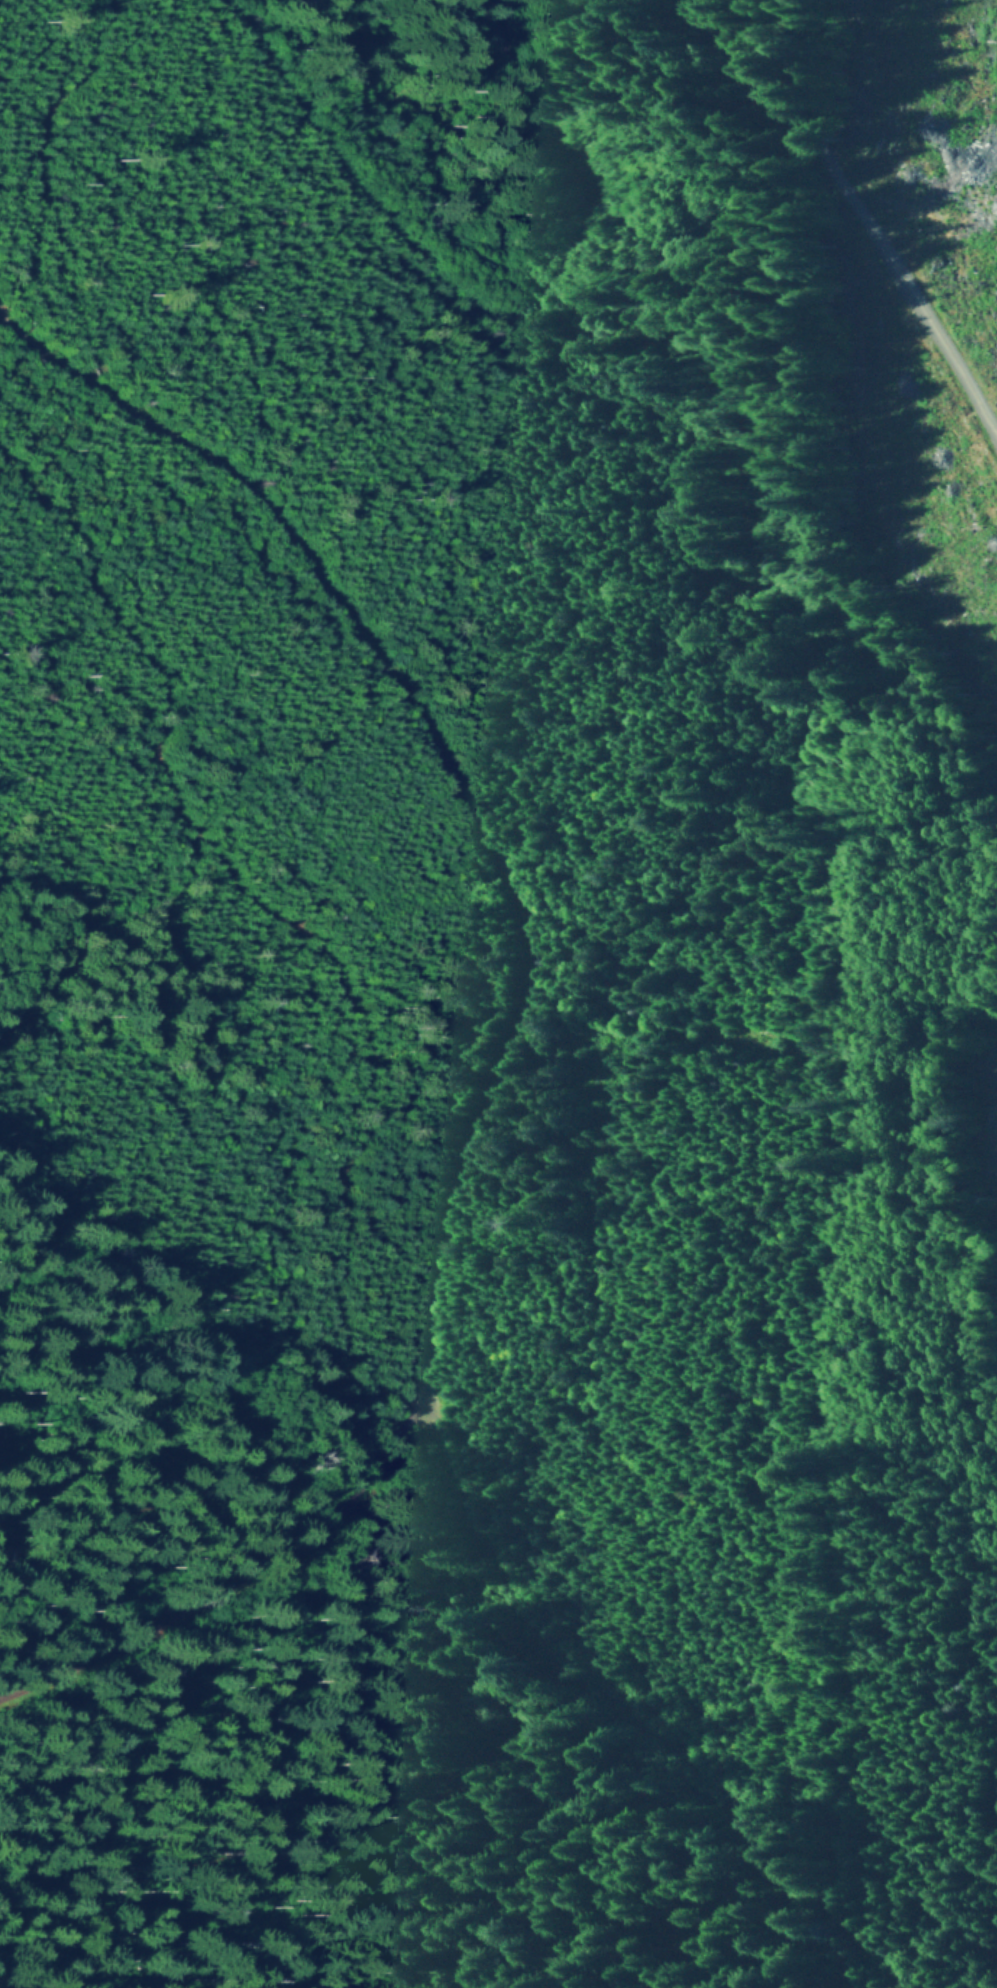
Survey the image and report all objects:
road: (515, 105)
road: (26, 113)
road: (841, 231)
road: (364, 237)
road: (492, 1025)
road: (326, 1062)
road: (166, 1820)

